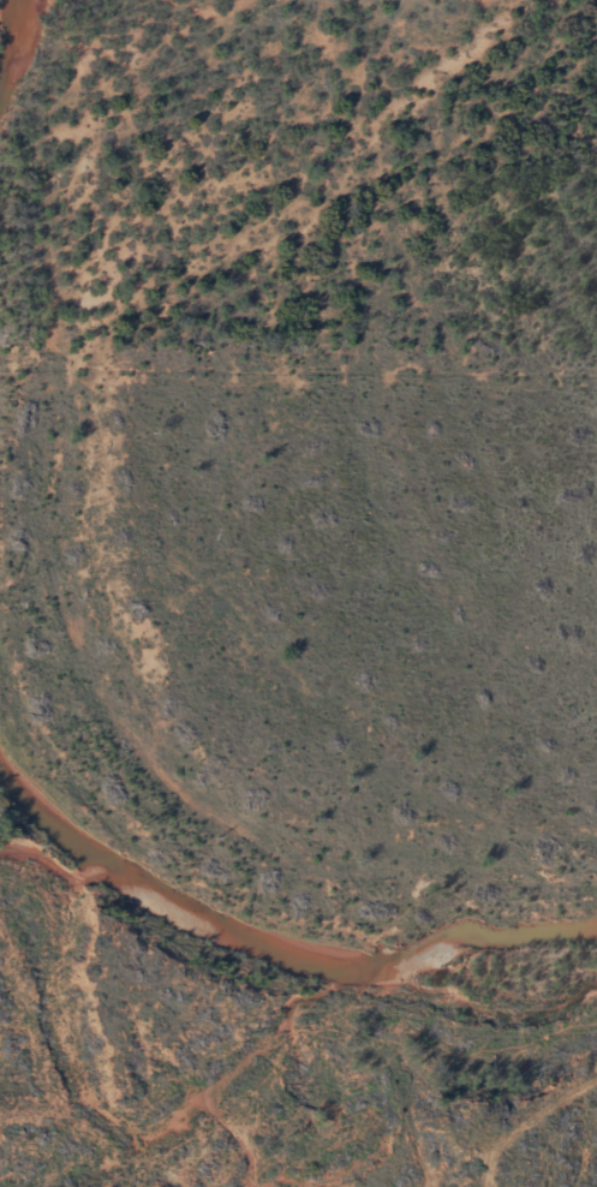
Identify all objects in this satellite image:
river: (24, 50)
river: (267, 940)

